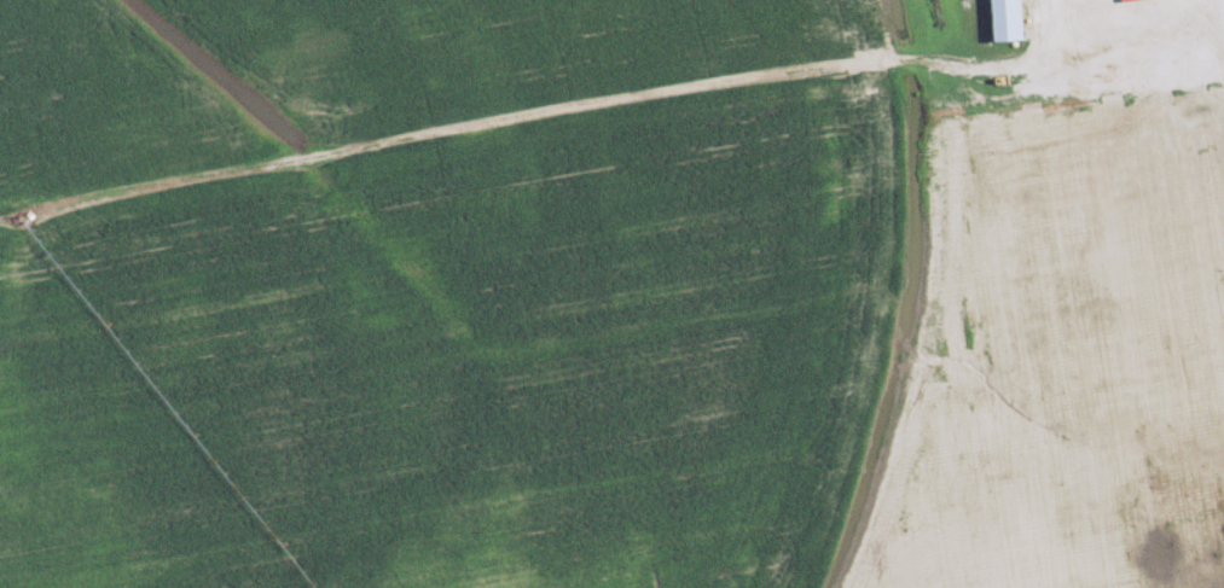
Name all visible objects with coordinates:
road: (1223, 2)
building: (1013, 21)

